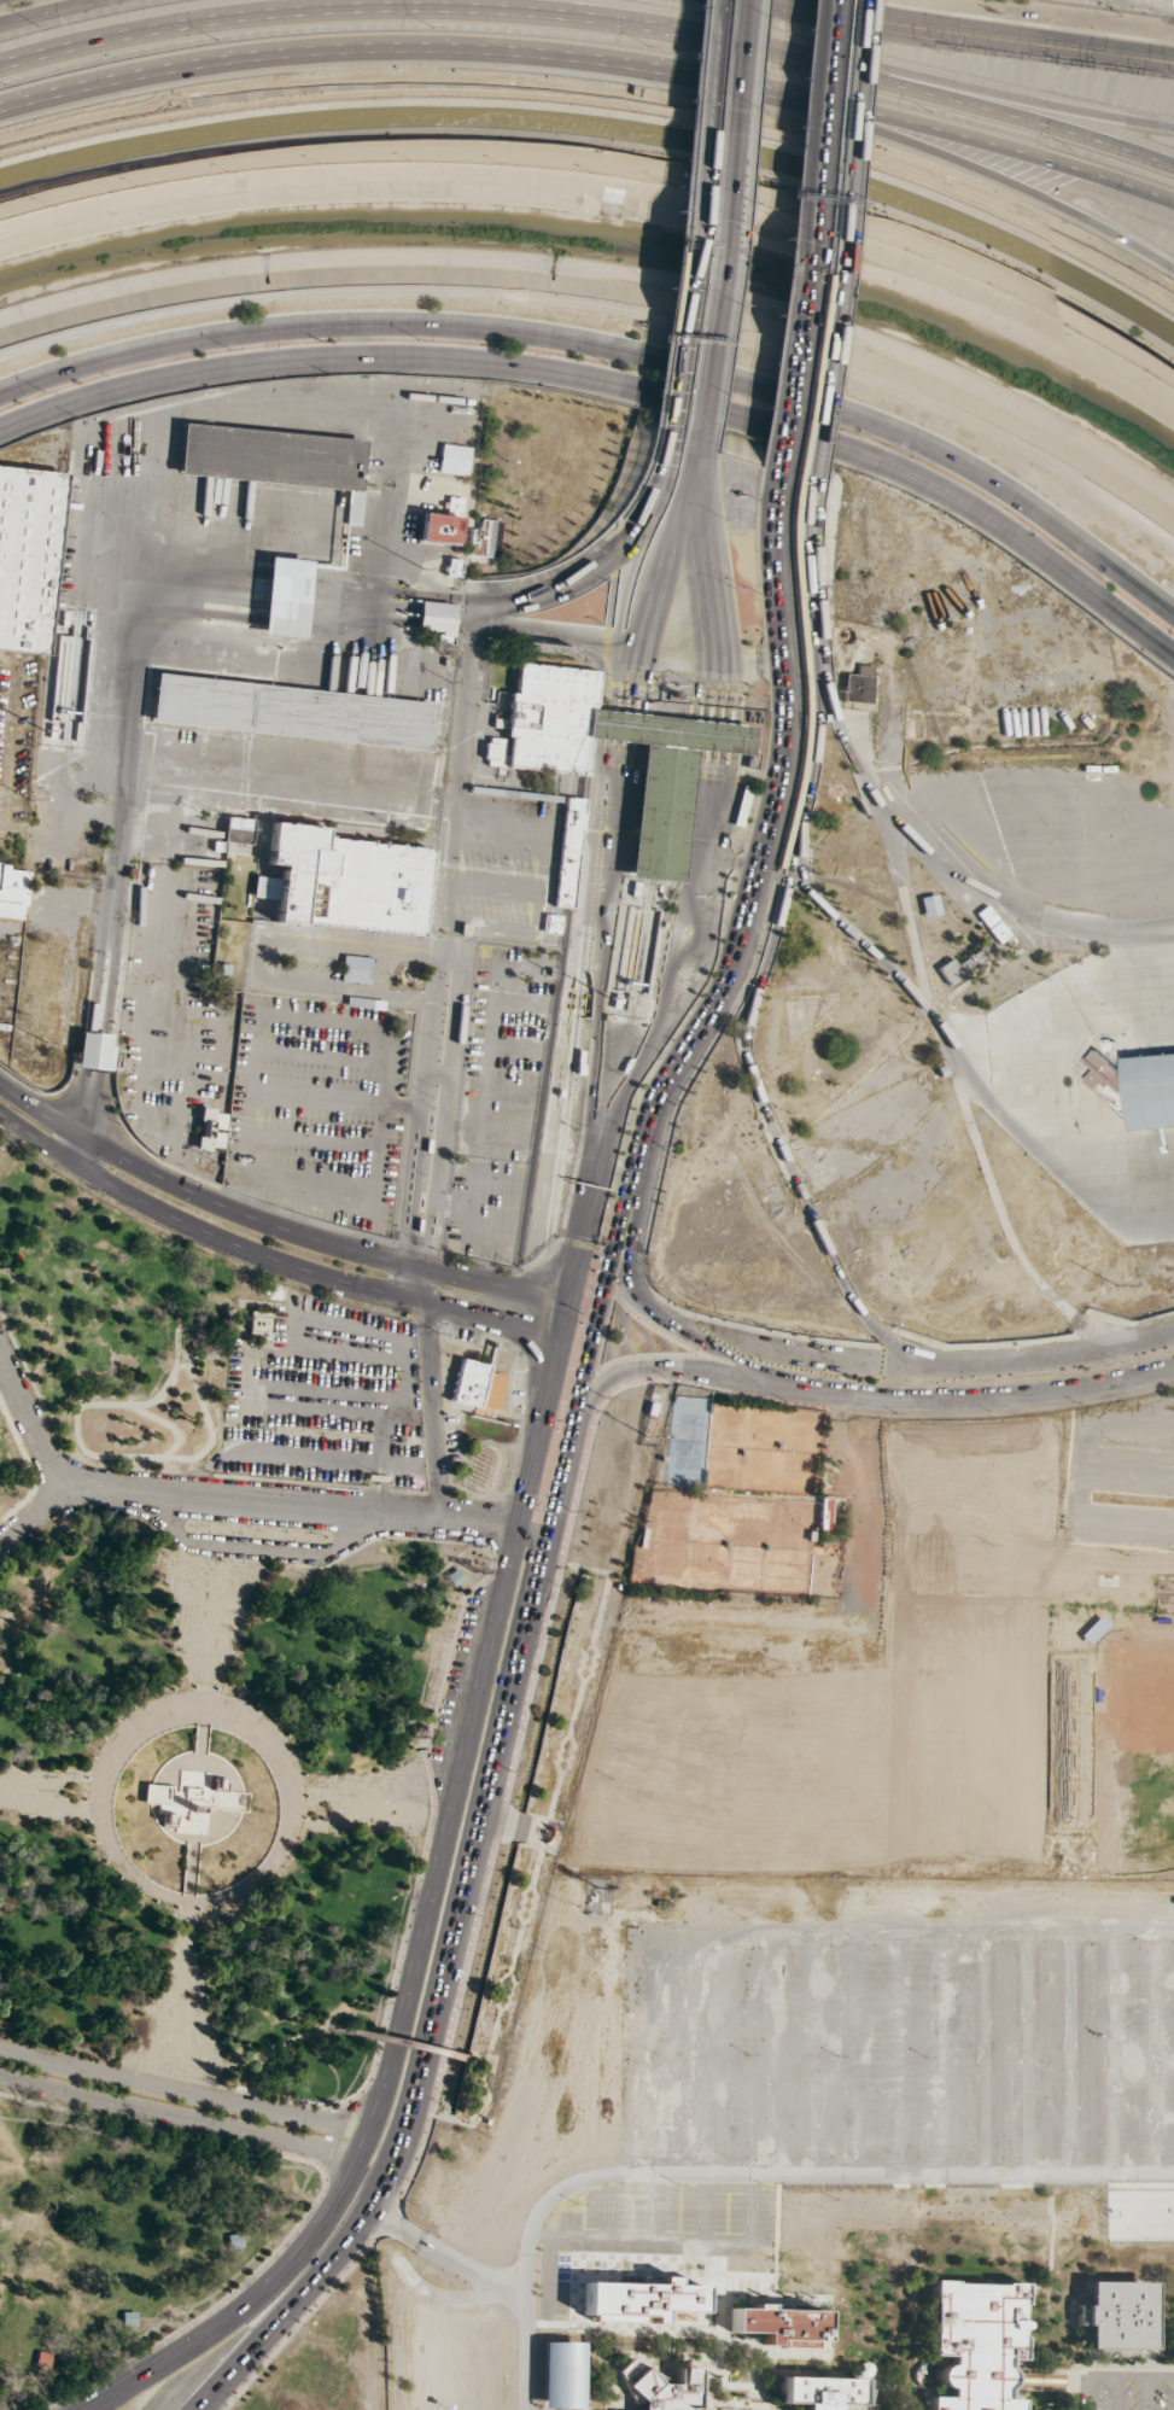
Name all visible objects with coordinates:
road: (792, 1)
road: (799, 1)
road: (51, 11)
road: (592, 17)
road: (989, 35)
road: (592, 58)
road: (1005, 94)
road: (731, 133)
road: (813, 142)
road: (940, 152)
road: (678, 223)
road: (694, 226)
river: (606, 243)
road: (824, 243)
road: (840, 245)
road: (608, 303)
road: (615, 349)
road: (709, 357)
road: (617, 380)
road: (789, 384)
building: (271, 456)
building: (454, 459)
building: (354, 507)
building: (440, 527)
building: (485, 539)
building: (27, 550)
road: (613, 573)
road: (286, 591)
road: (524, 595)
building: (285, 596)
building: (436, 617)
road: (541, 636)
road: (750, 663)
building: (214, 704)
building: (550, 718)
building: (401, 724)
parking lot: (282, 777)
road: (117, 823)
road: (706, 824)
road: (607, 827)
parking lot: (11, 830)
road: (881, 844)
building: (570, 851)
building: (332, 877)
building: (12, 892)
road: (1004, 895)
building: (930, 905)
road: (577, 933)
road: (735, 951)
building: (356, 969)
road: (146, 976)
road: (723, 1016)
parking lot: (495, 1025)
building: (95, 1052)
road: (964, 1068)
road: (741, 1079)
building: (1152, 1093)
parking lot: (311, 1109)
building: (211, 1131)
track: (185, 1332)
track: (193, 1370)
parking lot: (341, 1401)
road: (966, 1406)
track: (211, 1431)
track: (127, 1434)
road: (25, 1436)
park: (484, 1457)
parking lot: (1120, 1470)
park: (731, 1490)
park: (977, 1492)
parking lot: (854, 1507)
park: (962, 1722)
park: (1131, 1743)
park: (750, 1773)
park: (235, 1851)
parking lot: (880, 2064)
parking lot: (1125, 2392)

